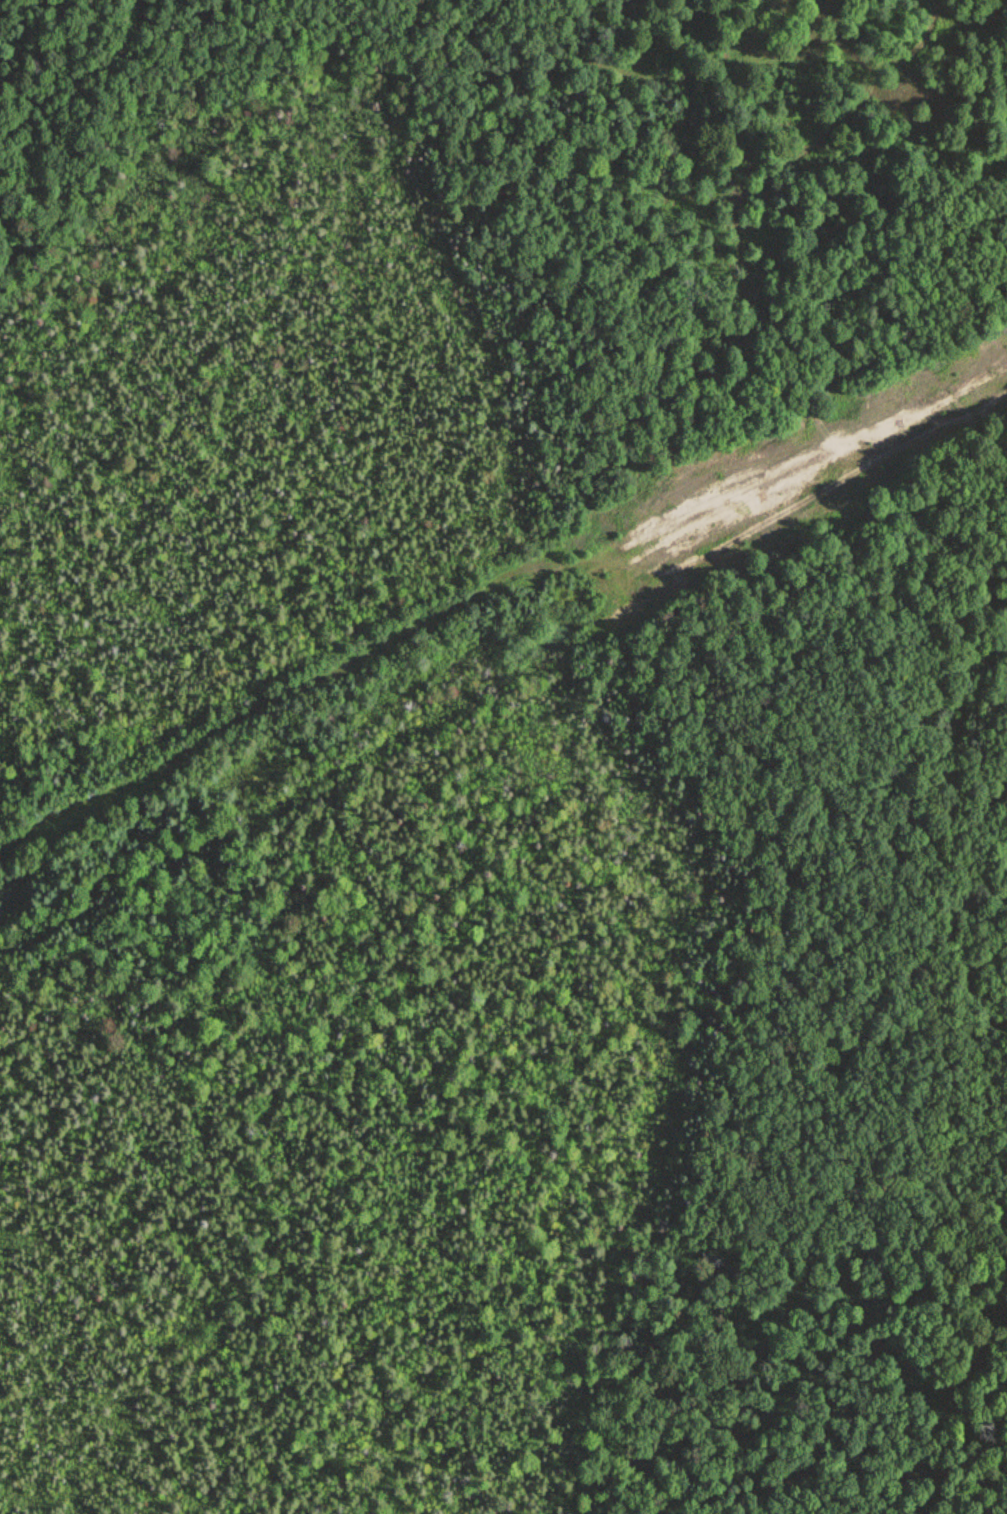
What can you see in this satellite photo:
road: (748, 269)

